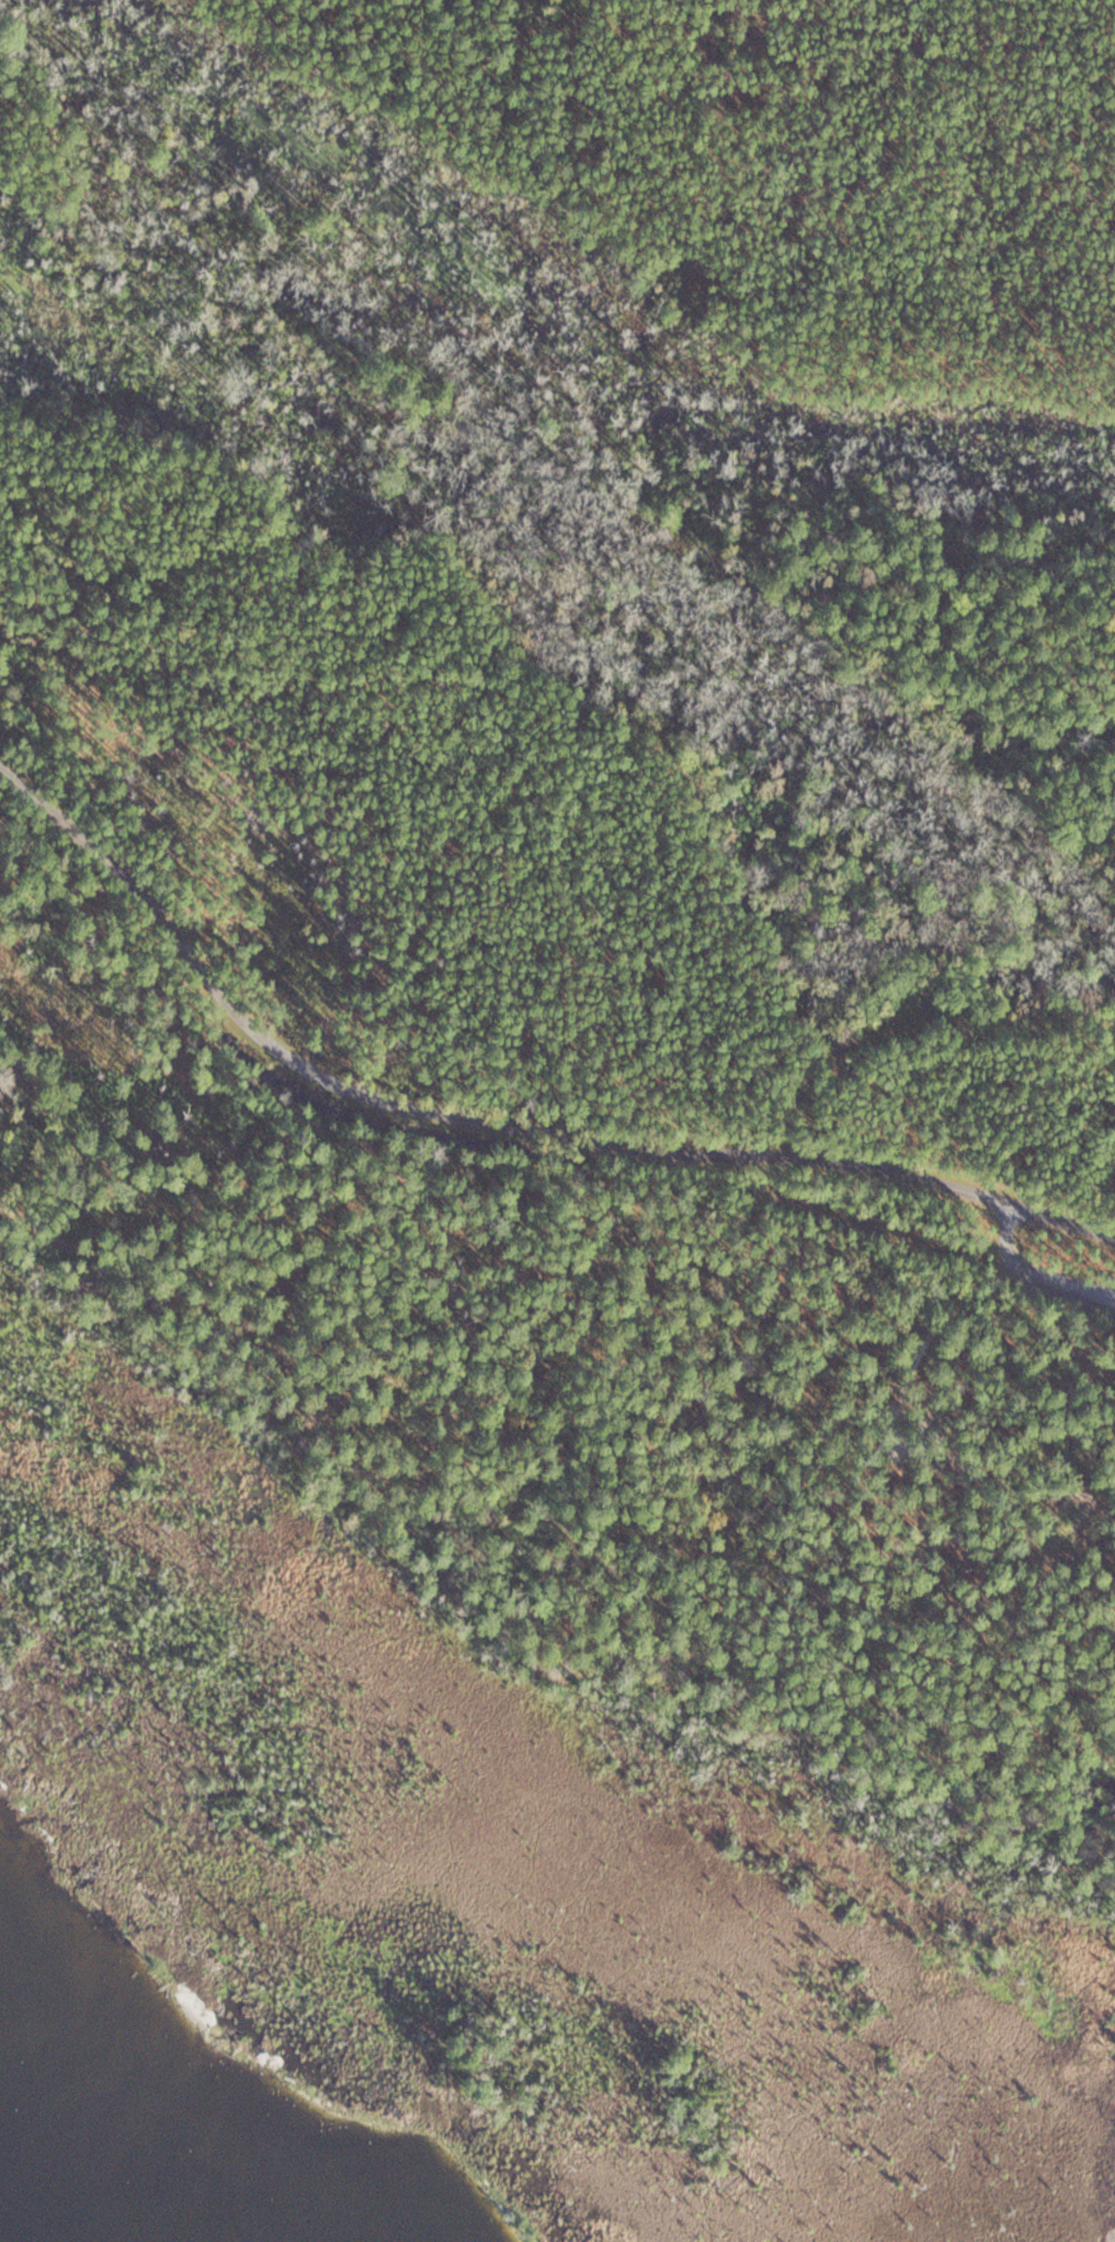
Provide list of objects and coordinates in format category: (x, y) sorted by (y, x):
road: (497, 1121)
road: (1034, 1276)
parking lot: (1073, 1290)
road: (928, 1409)

